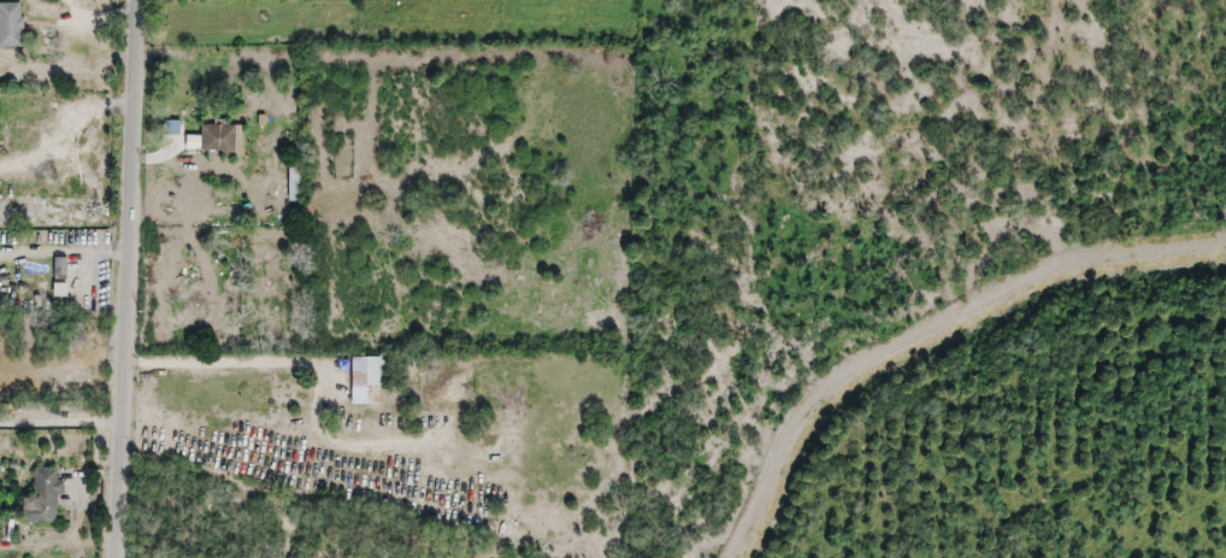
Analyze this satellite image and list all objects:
building: (11, 24)
building: (213, 140)
building: (293, 182)
building: (59, 277)
road: (128, 278)
building: (364, 380)
building: (42, 498)

